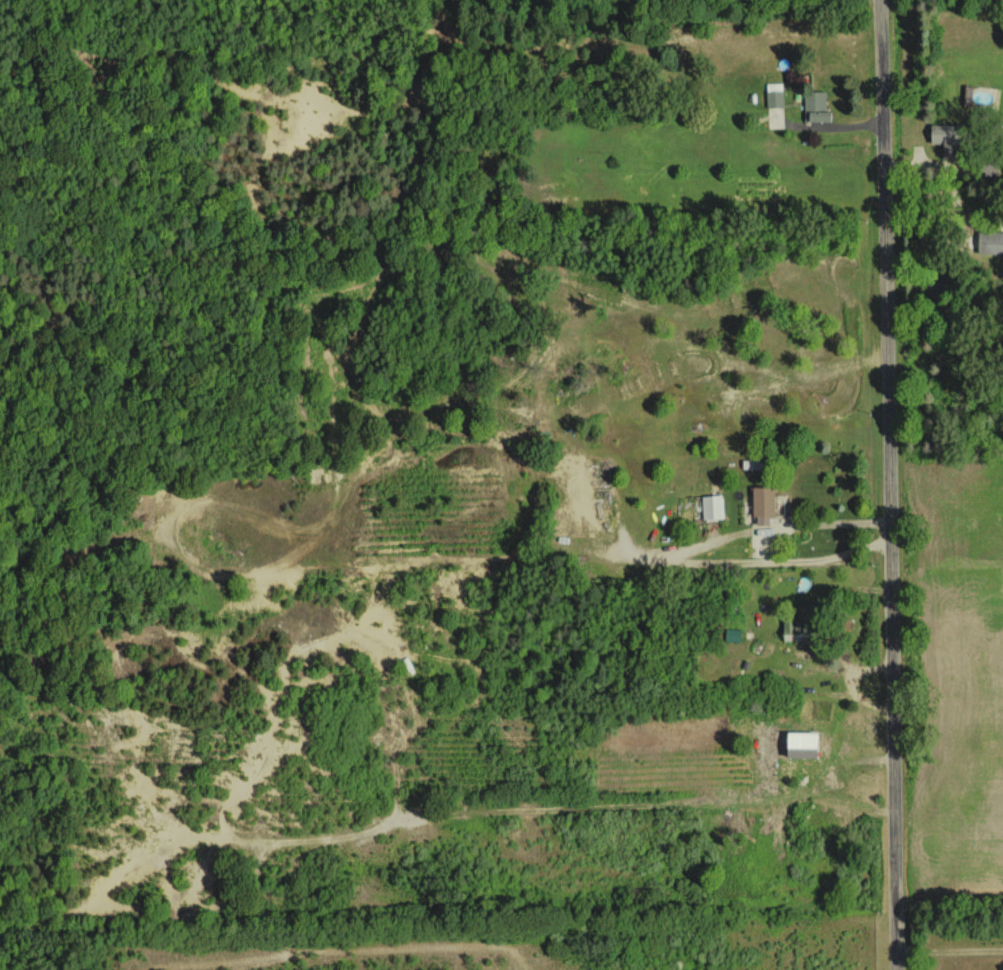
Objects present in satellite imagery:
building: (774, 95)
building: (815, 106)
building: (941, 137)
building: (989, 242)
road: (884, 485)
building: (762, 504)
building: (712, 506)
road: (681, 556)
building: (798, 745)
road: (948, 948)

